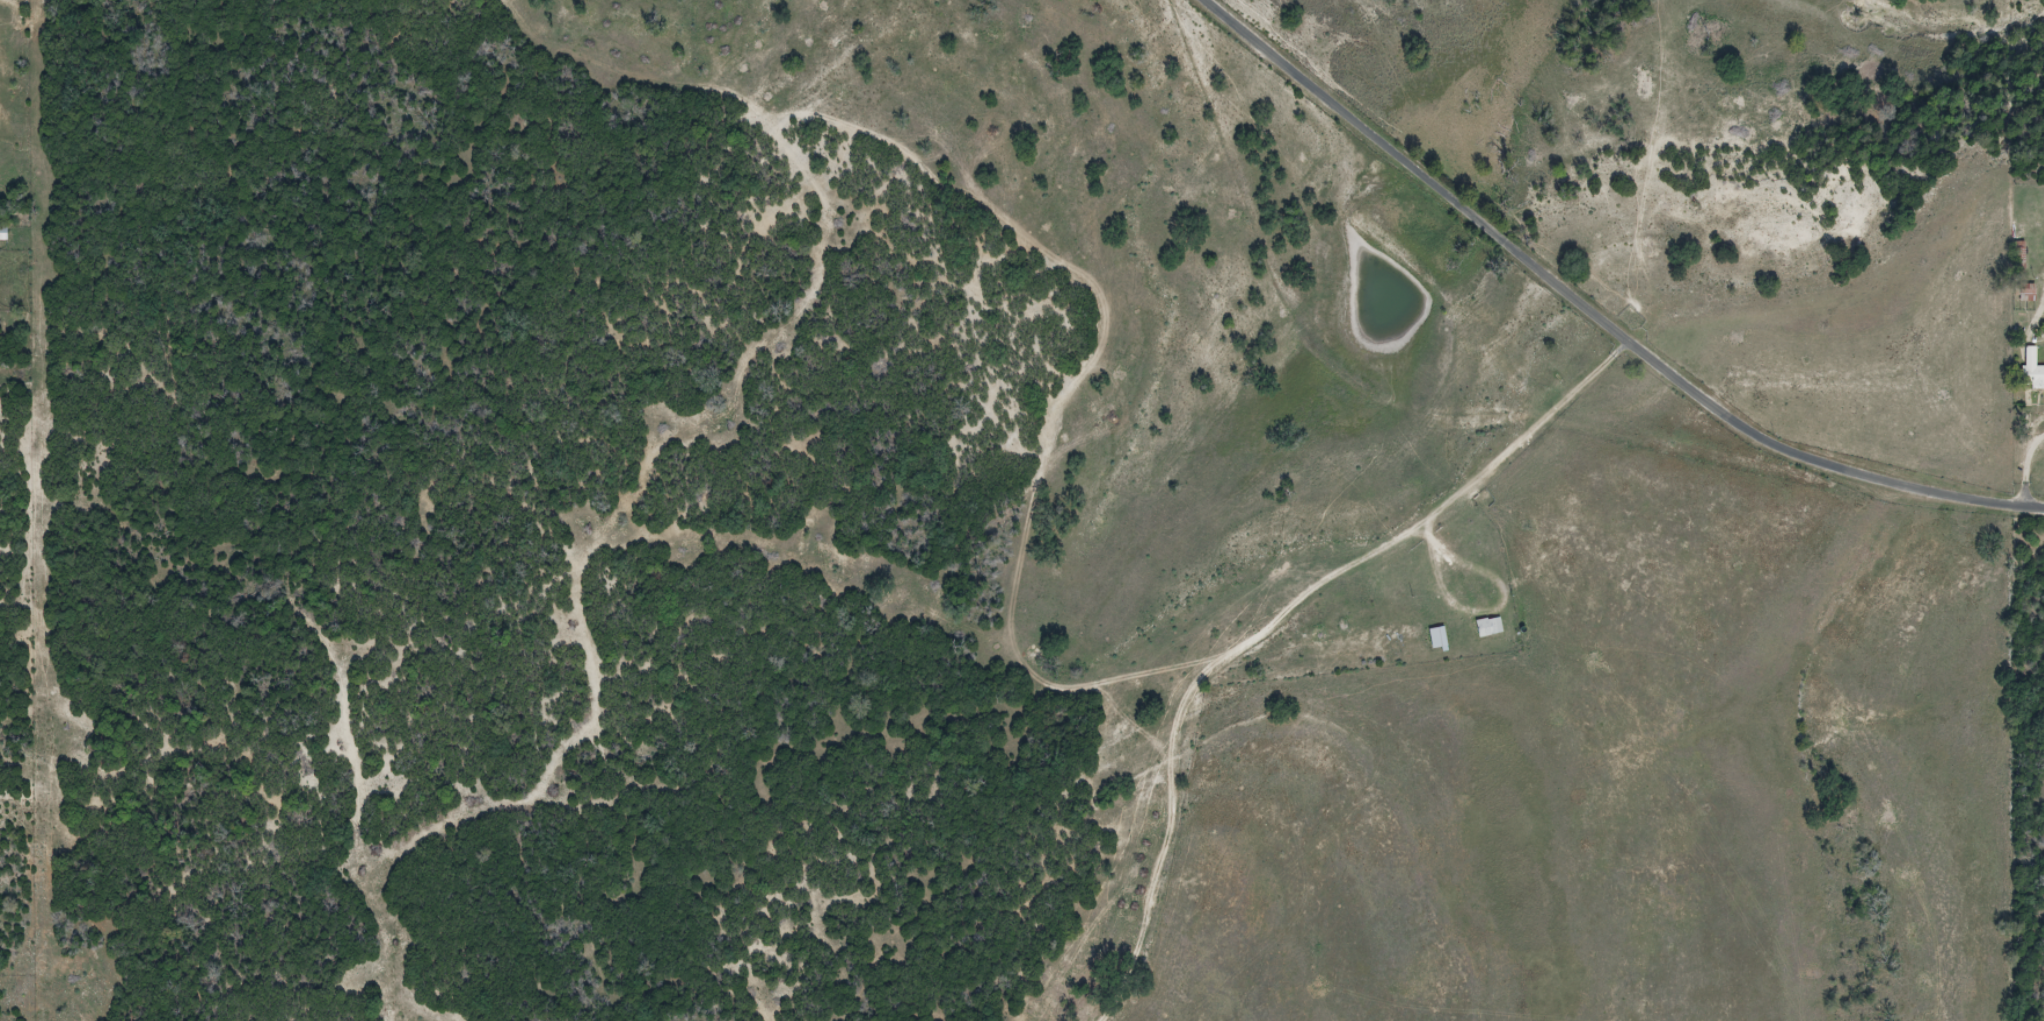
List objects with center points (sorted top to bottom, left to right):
building: (2025, 294)
road: (2043, 305)
road: (1595, 313)
road: (1623, 349)
building: (2031, 371)
road: (2027, 468)
road: (1476, 613)
building: (1489, 628)
road: (1266, 630)
building: (1438, 640)

